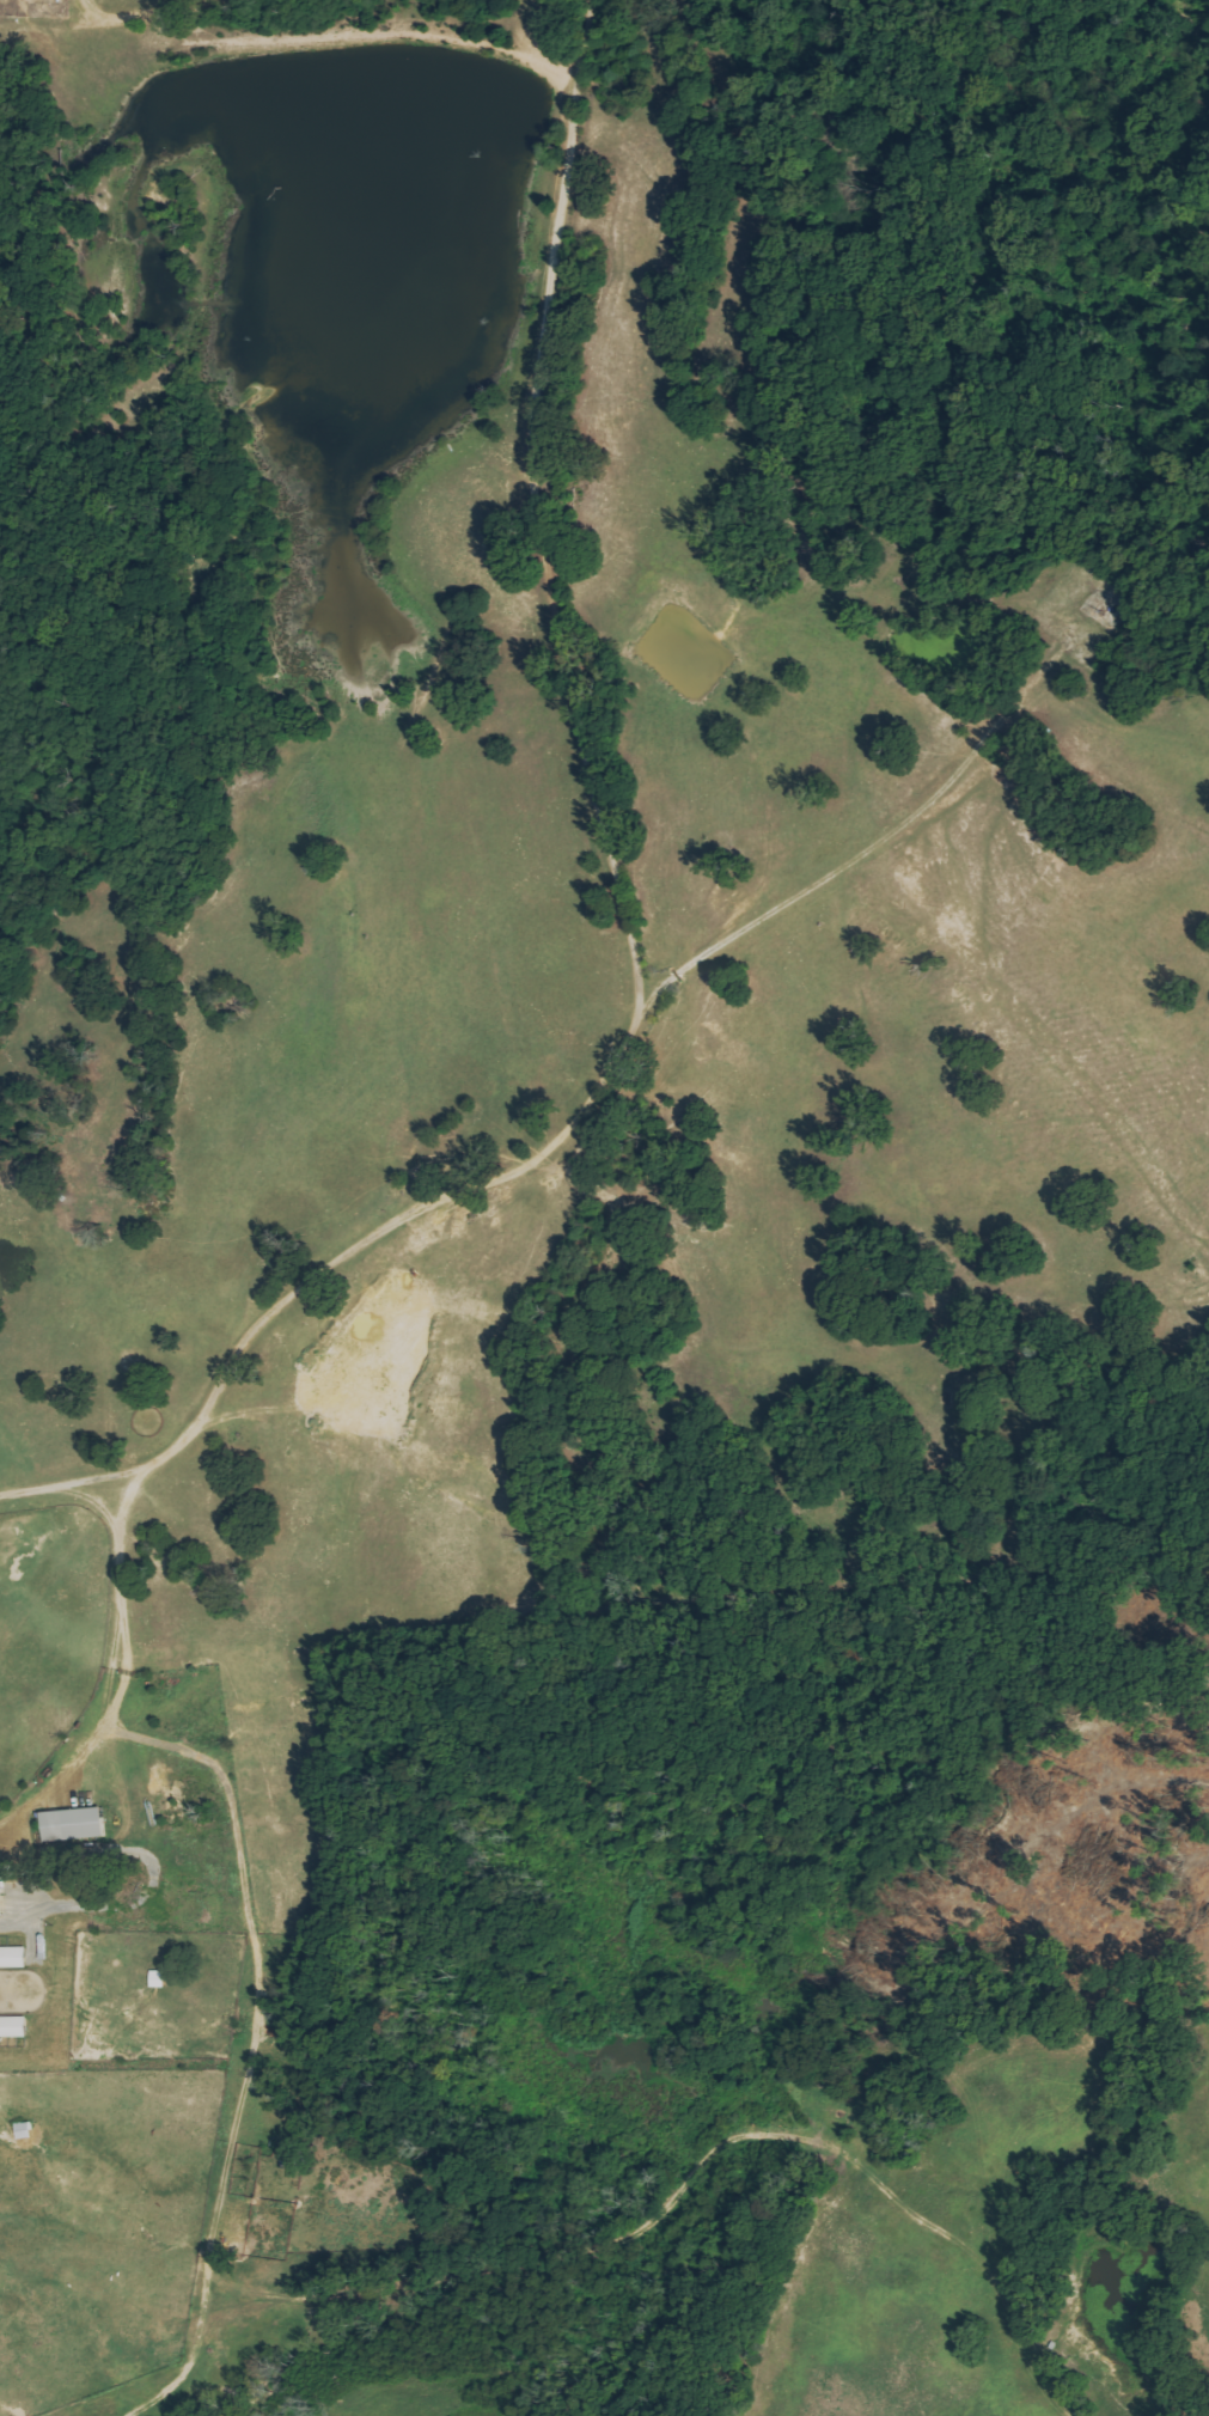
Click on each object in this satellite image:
road: (332, 35)
road: (853, 861)
road: (623, 922)
building: (74, 1824)
building: (13, 1958)
building: (158, 1979)
building: (13, 2027)

